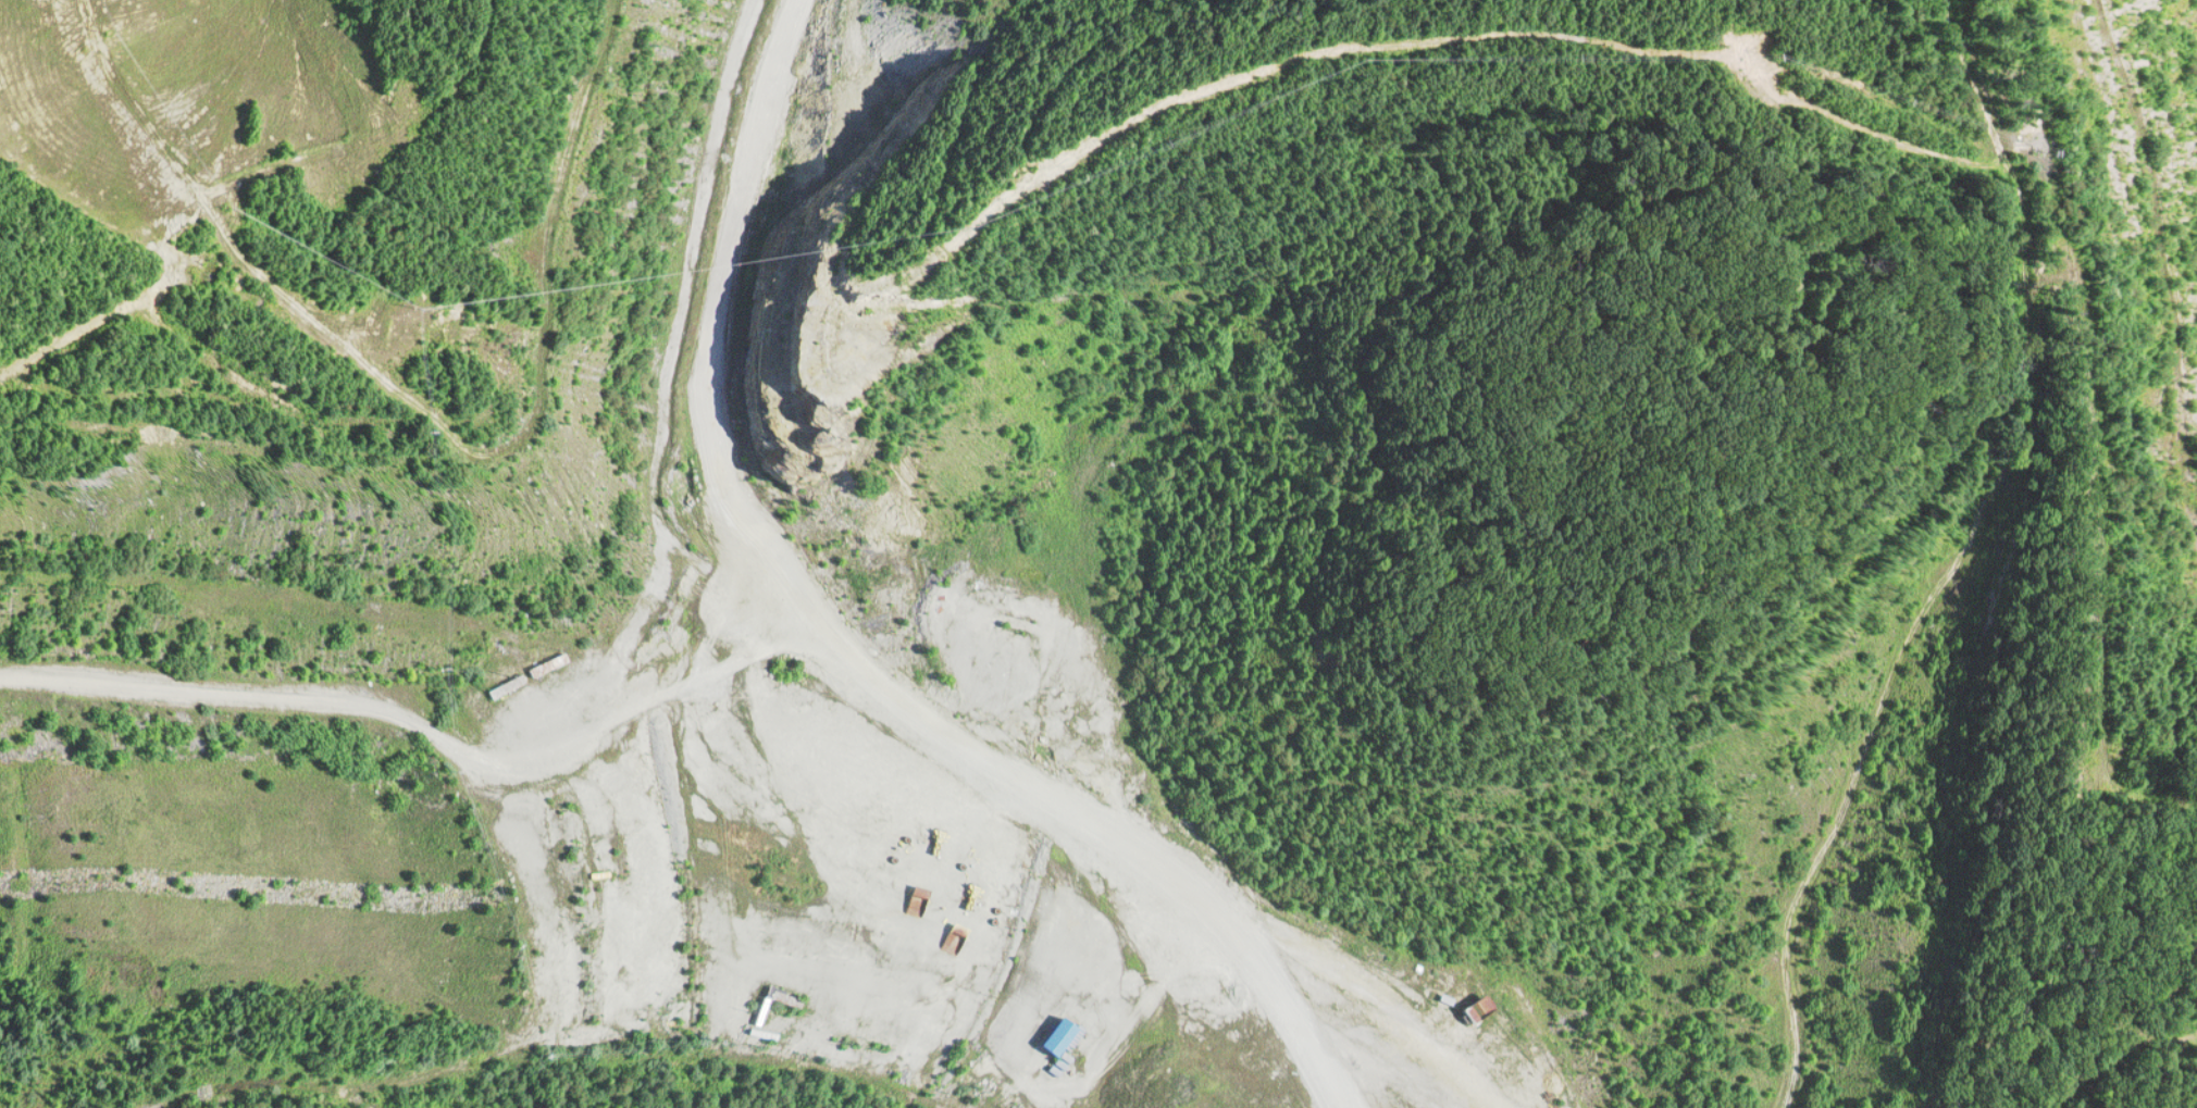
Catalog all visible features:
quarry: (1098, 553)
building: (502, 685)
building: (584, 896)
building: (601, 1014)
building: (1045, 1036)

